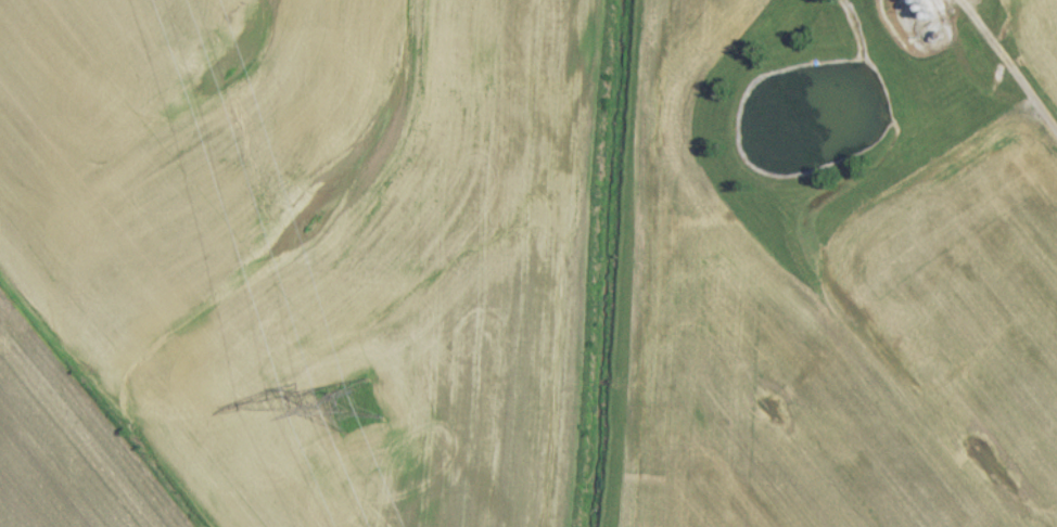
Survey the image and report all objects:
road: (1002, 70)
power tower: (353, 408)

